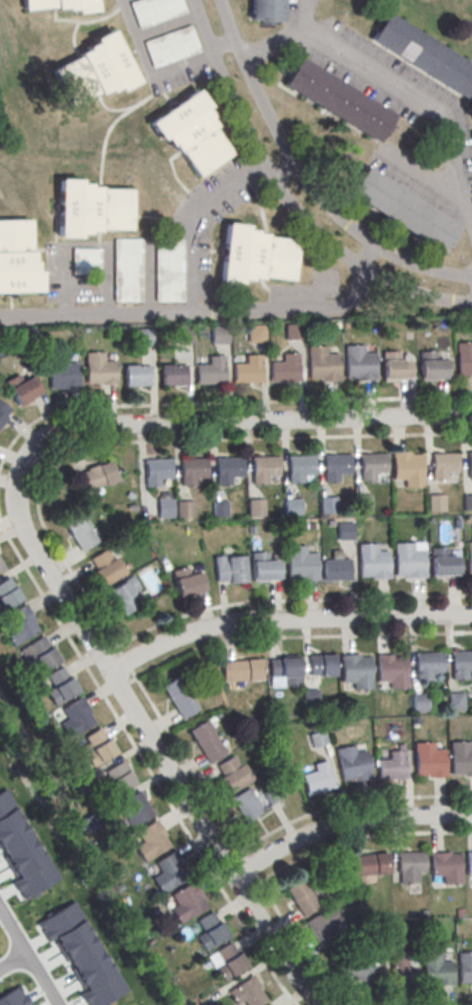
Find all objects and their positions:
building: (61, 4)
building: (265, 10)
building: (155, 11)
road: (168, 26)
road: (272, 40)
parking lot: (164, 42)
road: (222, 45)
building: (170, 47)
building: (423, 54)
road: (148, 68)
building: (94, 69)
road: (407, 90)
building: (337, 99)
building: (190, 132)
building: (465, 142)
road: (422, 169)
road: (285, 173)
road: (302, 183)
road: (289, 196)
building: (90, 208)
building: (404, 208)
road: (196, 223)
road: (88, 243)
parking lot: (153, 250)
building: (256, 255)
building: (16, 257)
building: (85, 262)
building: (127, 271)
building: (168, 271)
road: (206, 317)
building: (292, 334)
building: (256, 335)
building: (219, 336)
building: (182, 337)
building: (143, 339)
building: (463, 359)
building: (321, 364)
building: (357, 364)
building: (395, 365)
building: (432, 366)
building: (286, 369)
building: (211, 370)
building: (248, 370)
building: (98, 371)
building: (61, 374)
building: (173, 377)
building: (136, 378)
building: (22, 388)
road: (262, 402)
building: (4, 412)
road: (241, 422)
road: (20, 432)
road: (264, 439)
building: (443, 464)
building: (469, 464)
building: (371, 465)
building: (336, 466)
building: (300, 467)
building: (228, 468)
building: (264, 468)
building: (407, 468)
building: (193, 469)
building: (157, 470)
building: (96, 475)
building: (467, 504)
building: (435, 505)
building: (327, 507)
building: (255, 509)
building: (291, 509)
building: (219, 511)
building: (164, 512)
building: (184, 512)
building: (78, 533)
building: (345, 533)
road: (57, 552)
building: (469, 557)
building: (409, 560)
building: (373, 561)
building: (302, 563)
building: (1, 566)
building: (106, 566)
building: (441, 566)
building: (230, 567)
building: (1, 570)
building: (335, 572)
building: (263, 573)
building: (189, 580)
building: (8, 596)
building: (122, 596)
road: (285, 620)
building: (18, 627)
building: (40, 654)
road: (119, 654)
building: (461, 663)
building: (428, 664)
building: (321, 668)
building: (392, 670)
building: (240, 674)
building: (356, 675)
building: (284, 676)
building: (60, 685)
building: (179, 697)
building: (310, 699)
building: (419, 700)
building: (455, 700)
building: (77, 715)
road: (138, 719)
building: (317, 738)
building: (205, 741)
building: (98, 746)
building: (427, 760)
building: (461, 761)
building: (351, 764)
building: (392, 765)
road: (145, 766)
building: (232, 773)
building: (118, 776)
building: (317, 778)
building: (271, 795)
building: (246, 803)
road: (350, 803)
building: (137, 809)
road: (345, 822)
road: (360, 838)
building: (149, 842)
building: (22, 850)
road: (239, 852)
building: (468, 863)
building: (367, 864)
building: (409, 866)
building: (446, 866)
building: (168, 871)
building: (302, 897)
building: (186, 901)
building: (323, 926)
building: (209, 931)
building: (82, 954)
road: (28, 958)
road: (12, 960)
building: (228, 961)
building: (359, 967)
building: (464, 967)
building: (437, 969)
building: (401, 975)
road: (304, 989)
building: (246, 992)
building: (14, 997)

